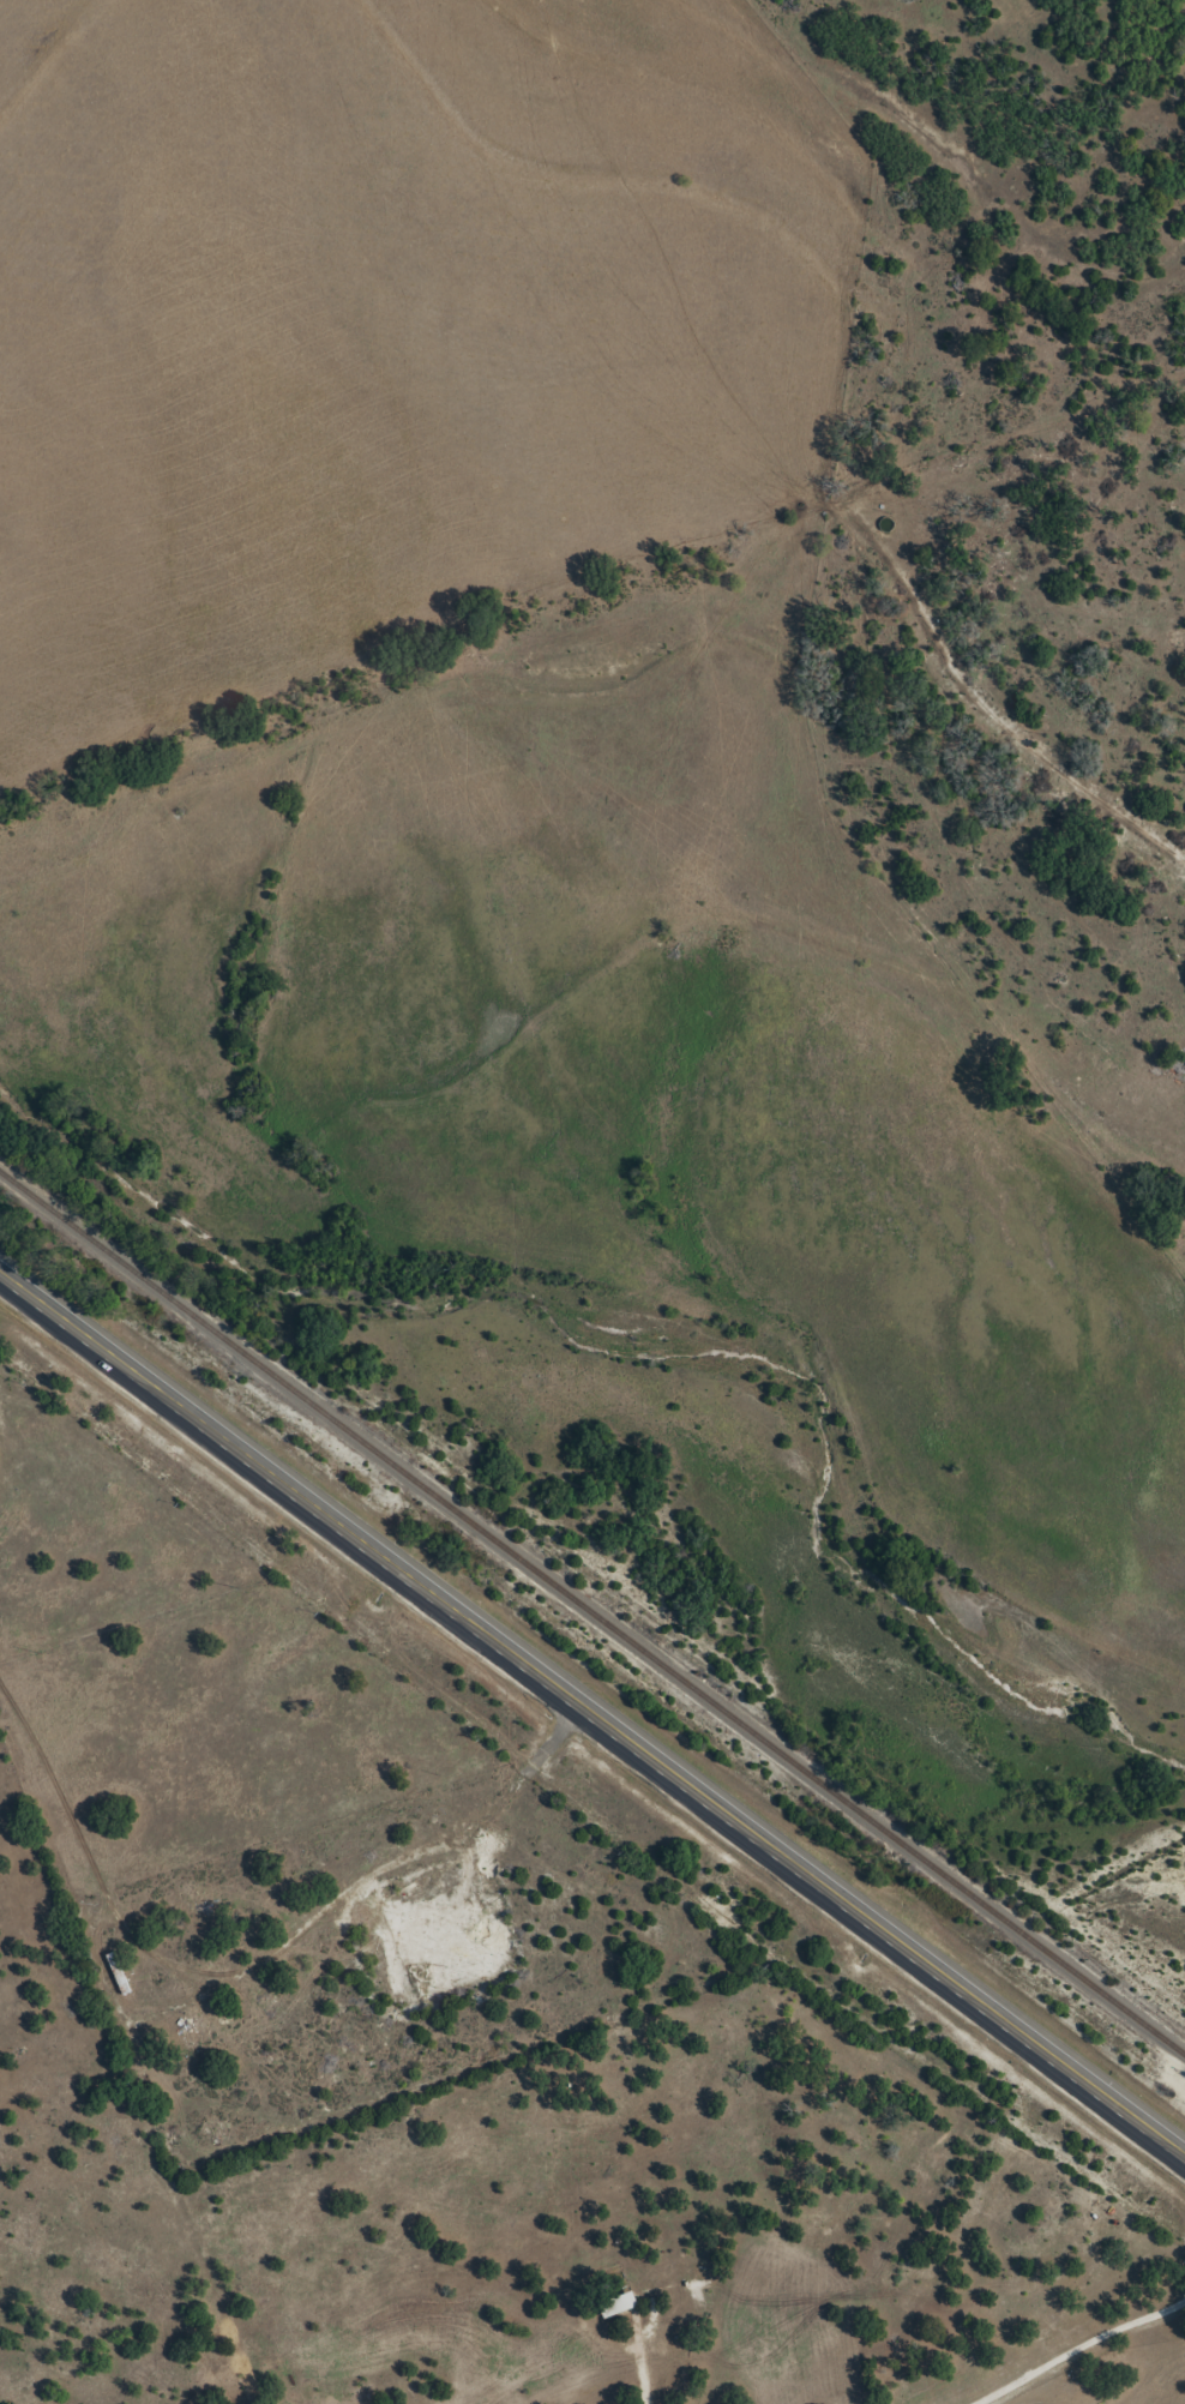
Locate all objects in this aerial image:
railway: (592, 1613)
road: (592, 1709)
building: (118, 1972)
building: (616, 2303)

